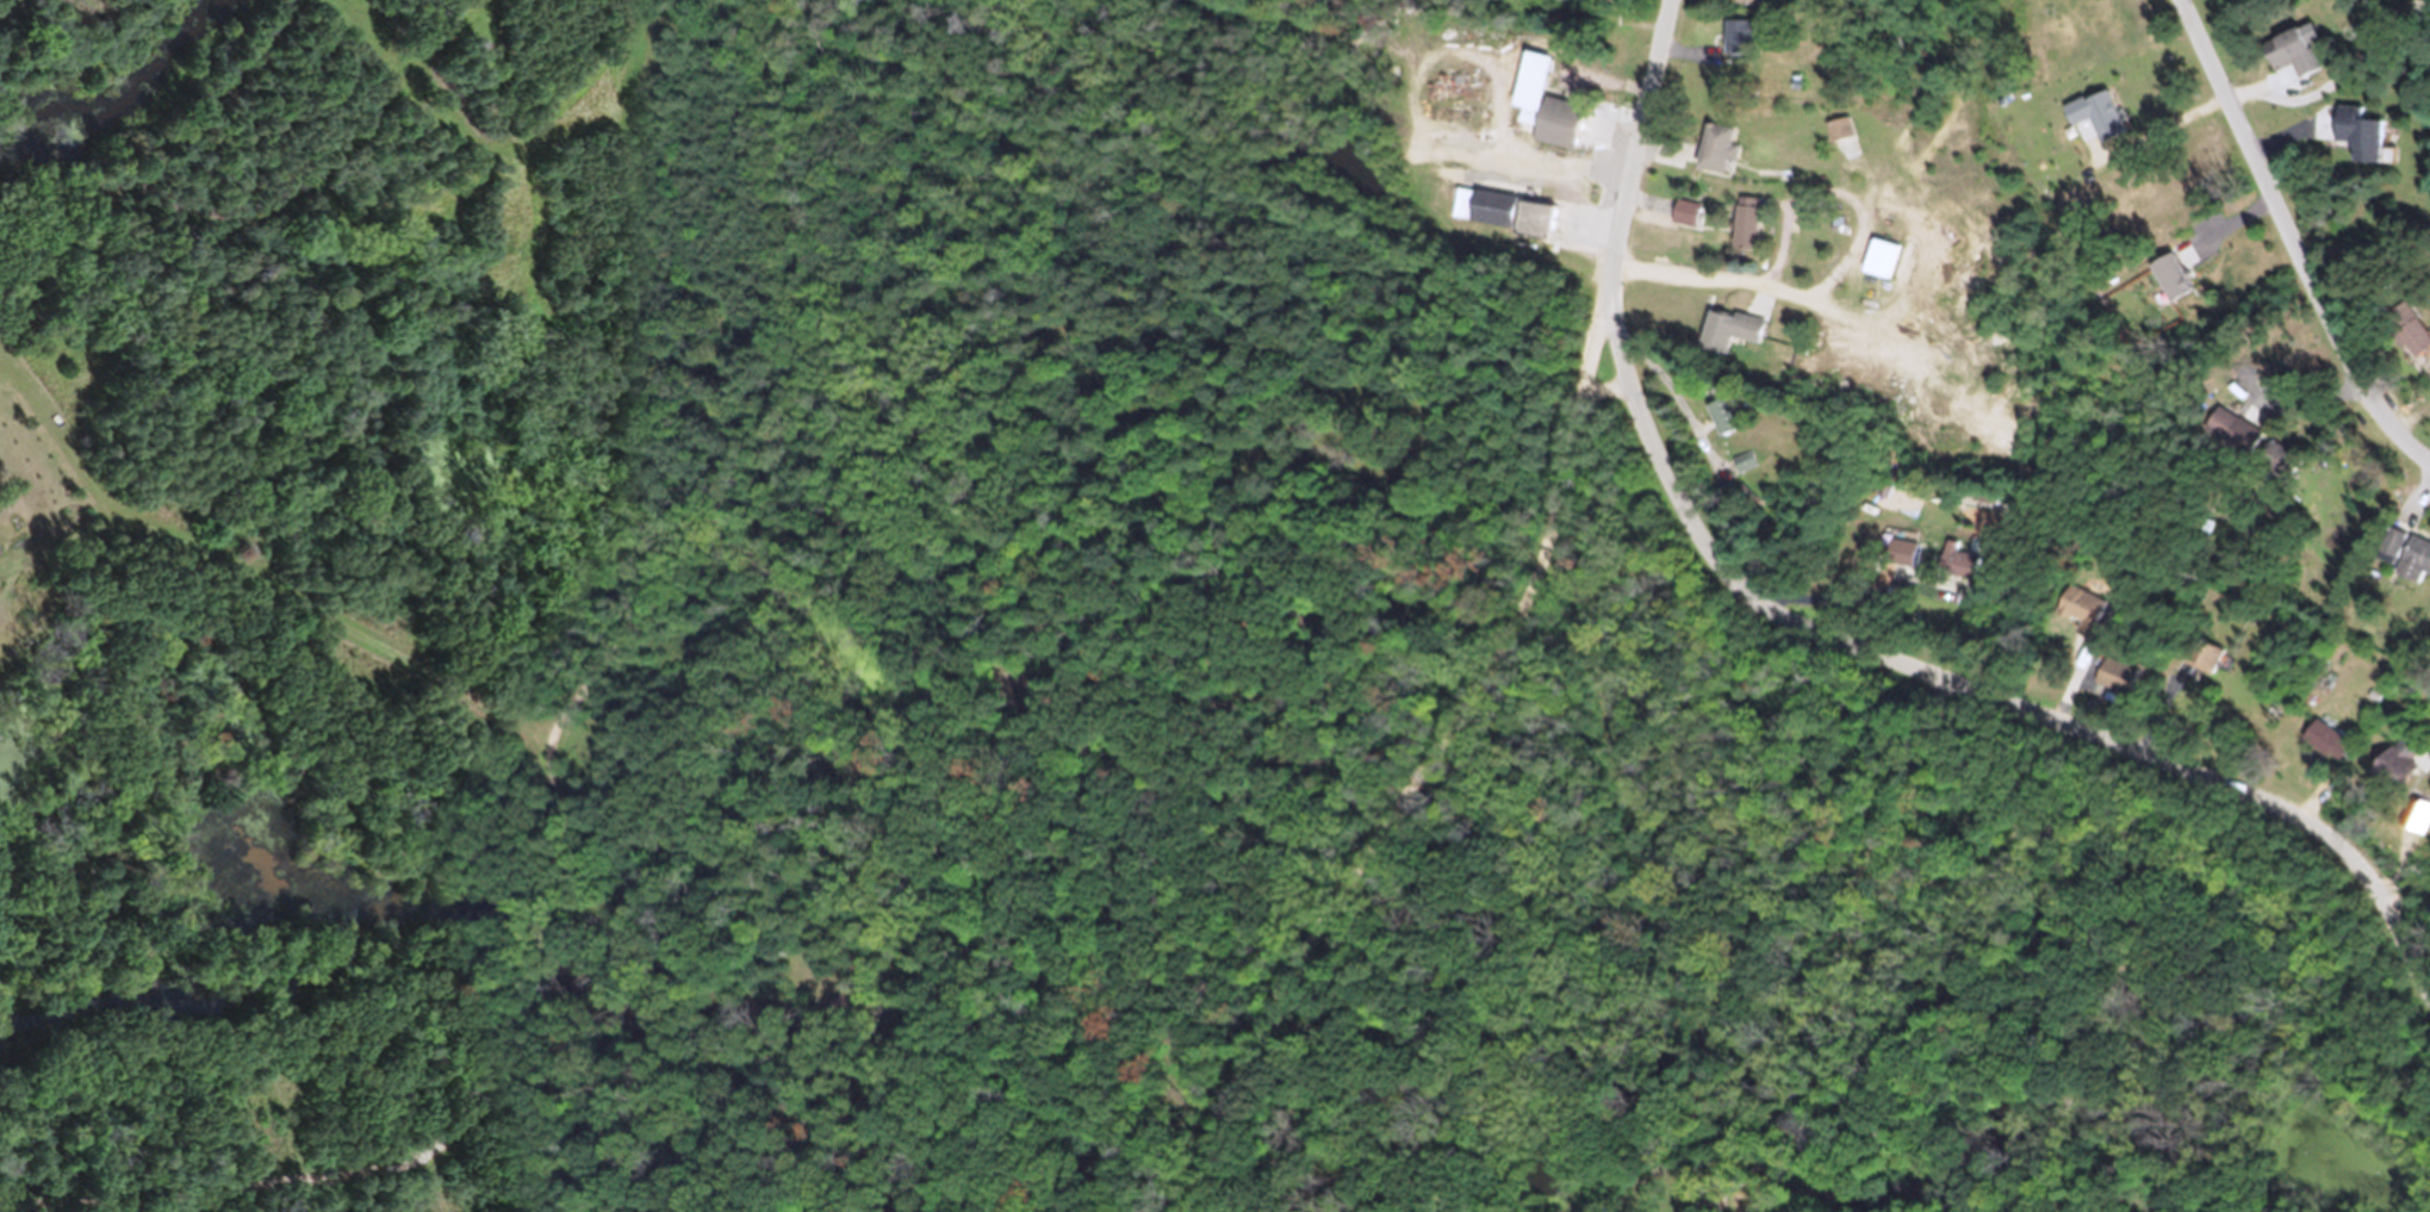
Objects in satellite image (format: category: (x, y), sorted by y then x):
building: (1747, 6)
building: (1738, 44)
building: (2289, 60)
building: (1540, 112)
road: (1640, 125)
building: (1833, 136)
building: (2358, 143)
building: (1715, 156)
building: (1500, 219)
building: (1741, 235)
road: (2288, 241)
building: (1873, 267)
road: (1742, 285)
building: (2164, 285)
building: (1726, 337)
building: (2406, 338)
road: (1671, 399)
building: (2225, 440)
building: (2271, 468)
building: (1903, 561)
building: (2404, 563)
building: (1952, 570)
road: (1856, 615)
building: (2077, 615)
building: (2084, 663)
building: (2202, 667)
building: (2115, 685)
road: (1963, 688)
road: (1441, 746)
building: (2325, 750)
road: (554, 770)
building: (2391, 773)
road: (2388, 1166)
road: (2250, 1167)

